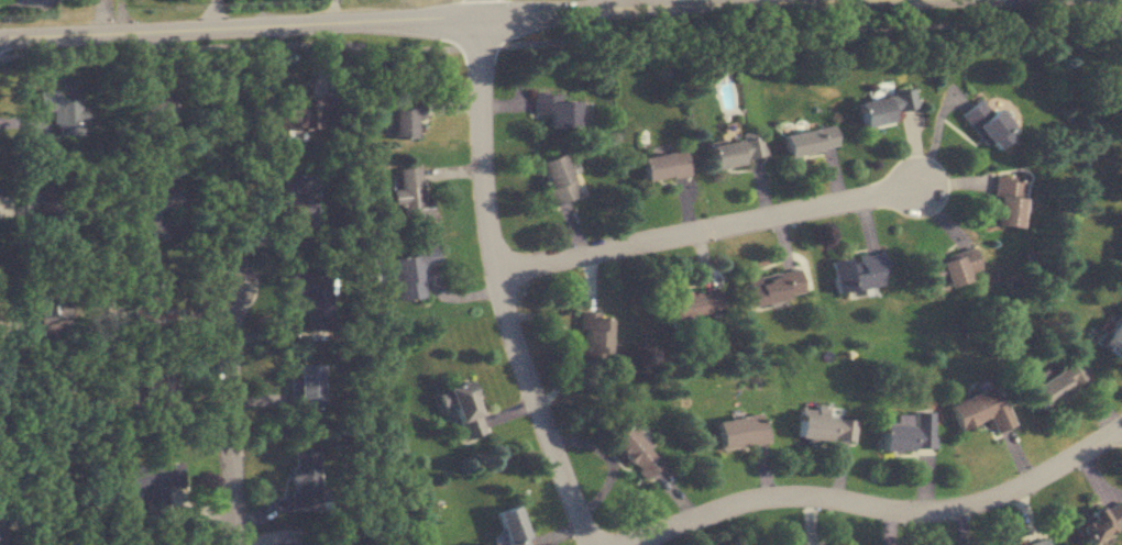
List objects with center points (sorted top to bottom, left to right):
road: (806, 1)
road: (618, 4)
road: (483, 8)
road: (330, 11)
road: (212, 14)
road: (120, 16)
road: (459, 16)
road: (560, 40)
building: (153, 105)
building: (883, 107)
building: (563, 110)
building: (319, 112)
building: (405, 122)
building: (987, 123)
building: (810, 141)
building: (738, 152)
building: (665, 166)
building: (560, 178)
building: (413, 194)
building: (299, 201)
building: (1007, 201)
building: (157, 209)
road: (706, 229)
building: (950, 269)
building: (413, 271)
building: (858, 272)
road: (502, 286)
building: (774, 286)
building: (144, 302)
building: (693, 304)
building: (320, 313)
building: (596, 340)
building: (1113, 340)
building: (1059, 383)
building: (306, 388)
road: (234, 400)
building: (979, 410)
building: (466, 411)
building: (826, 429)
building: (740, 432)
building: (910, 435)
building: (635, 453)
road: (605, 463)
building: (155, 476)
building: (307, 481)
road: (879, 508)
building: (1101, 523)
building: (510, 527)
building: (1043, 544)

